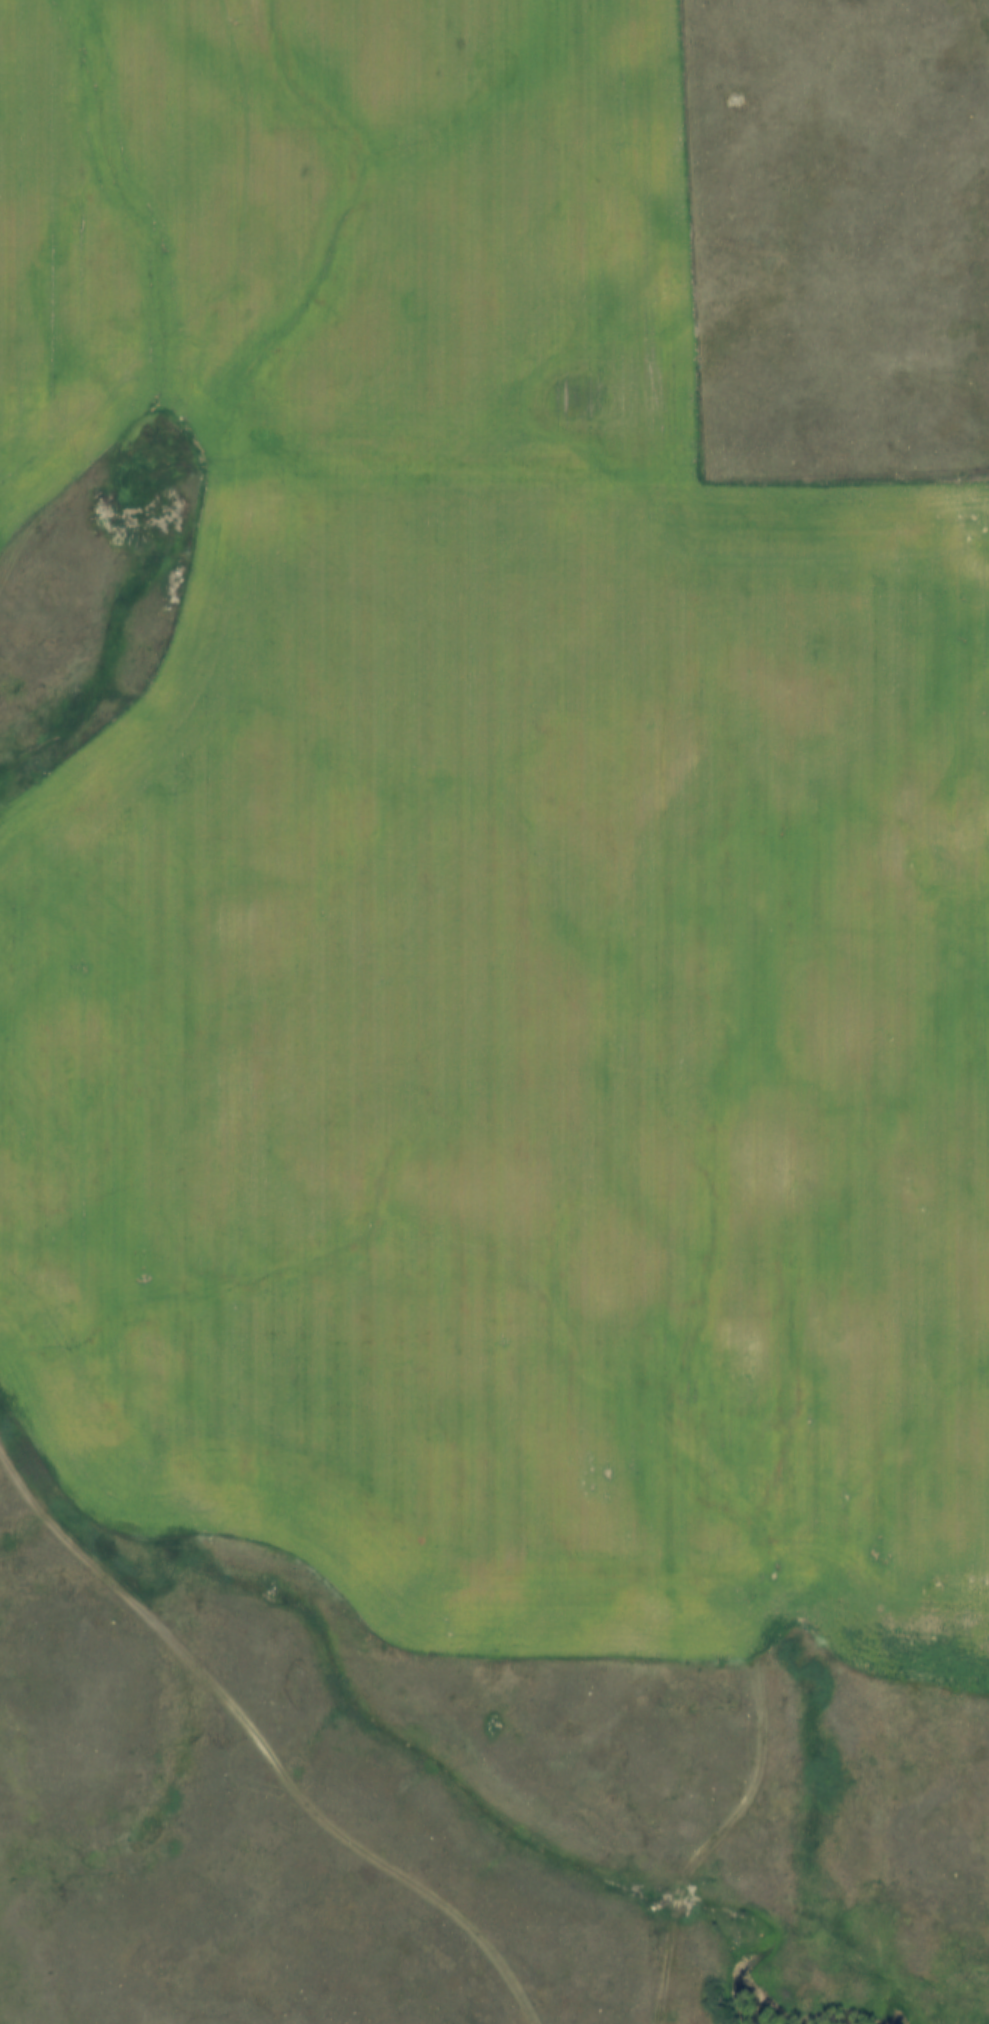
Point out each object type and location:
road: (52, 475)
road: (269, 1745)
road: (712, 1841)

